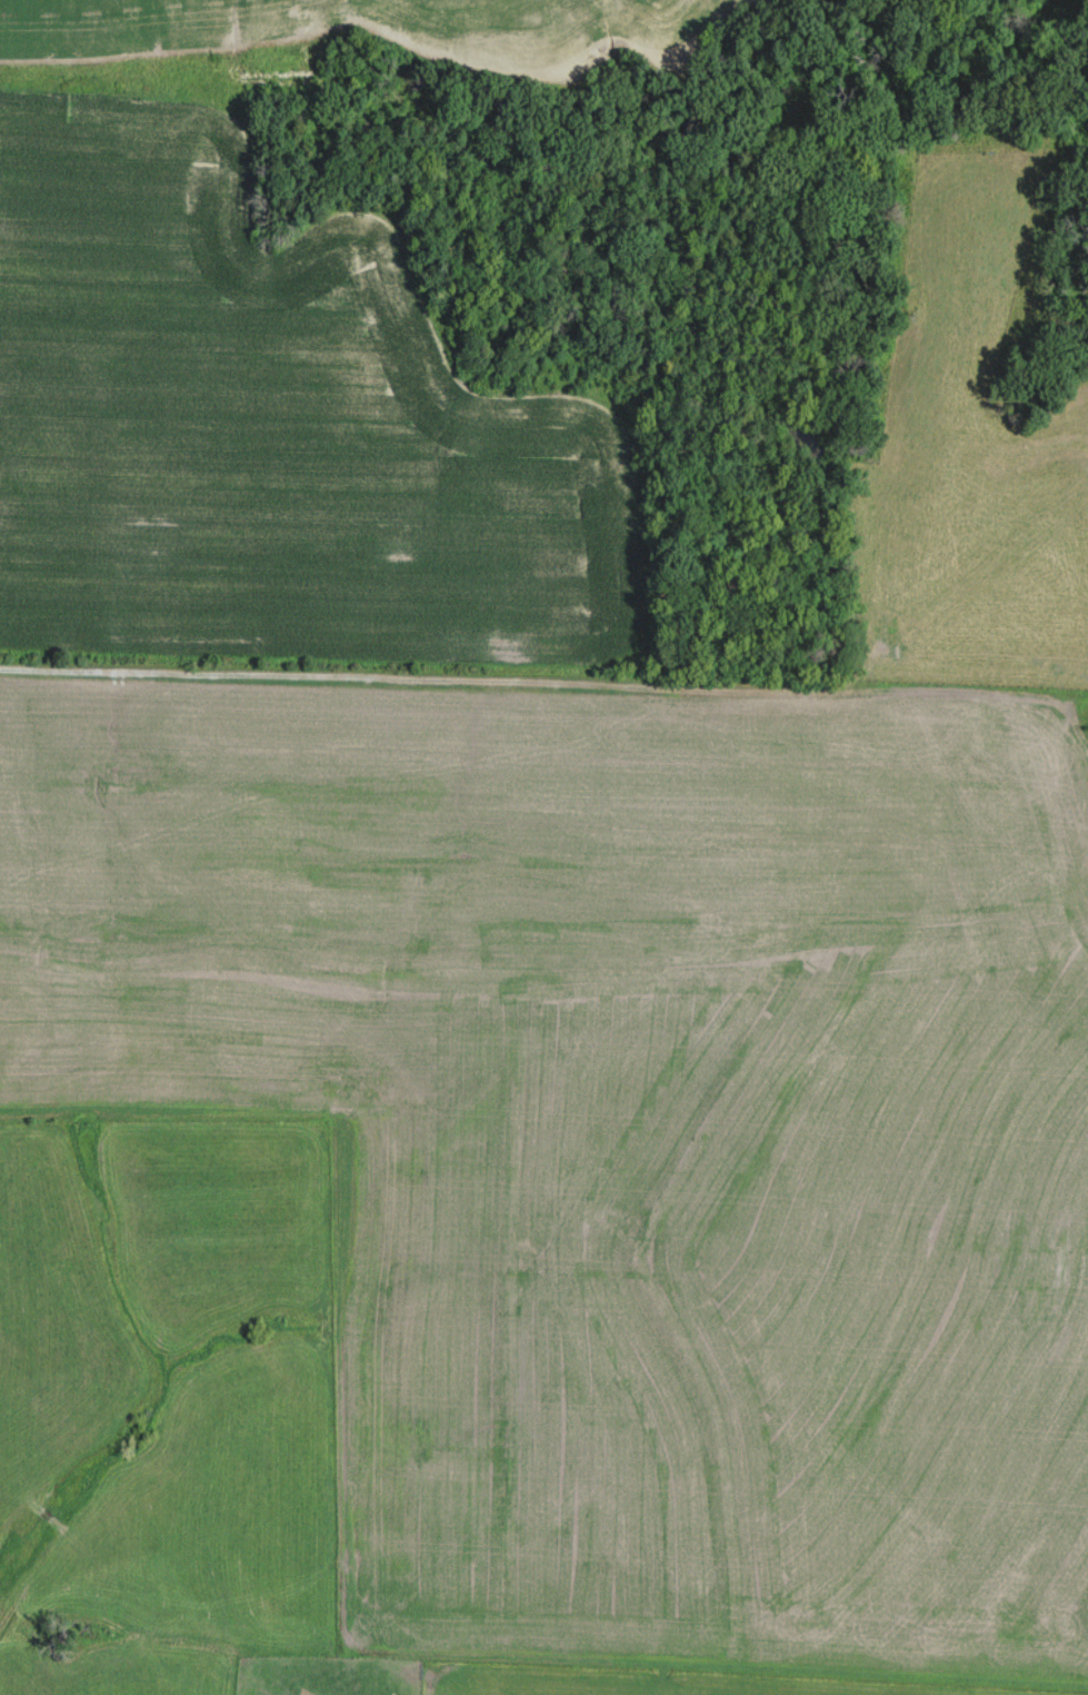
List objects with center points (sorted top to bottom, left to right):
crop: (363, 39)
crop: (291, 437)
crop: (620, 1134)
crop: (162, 1400)
crop: (663, 1682)

